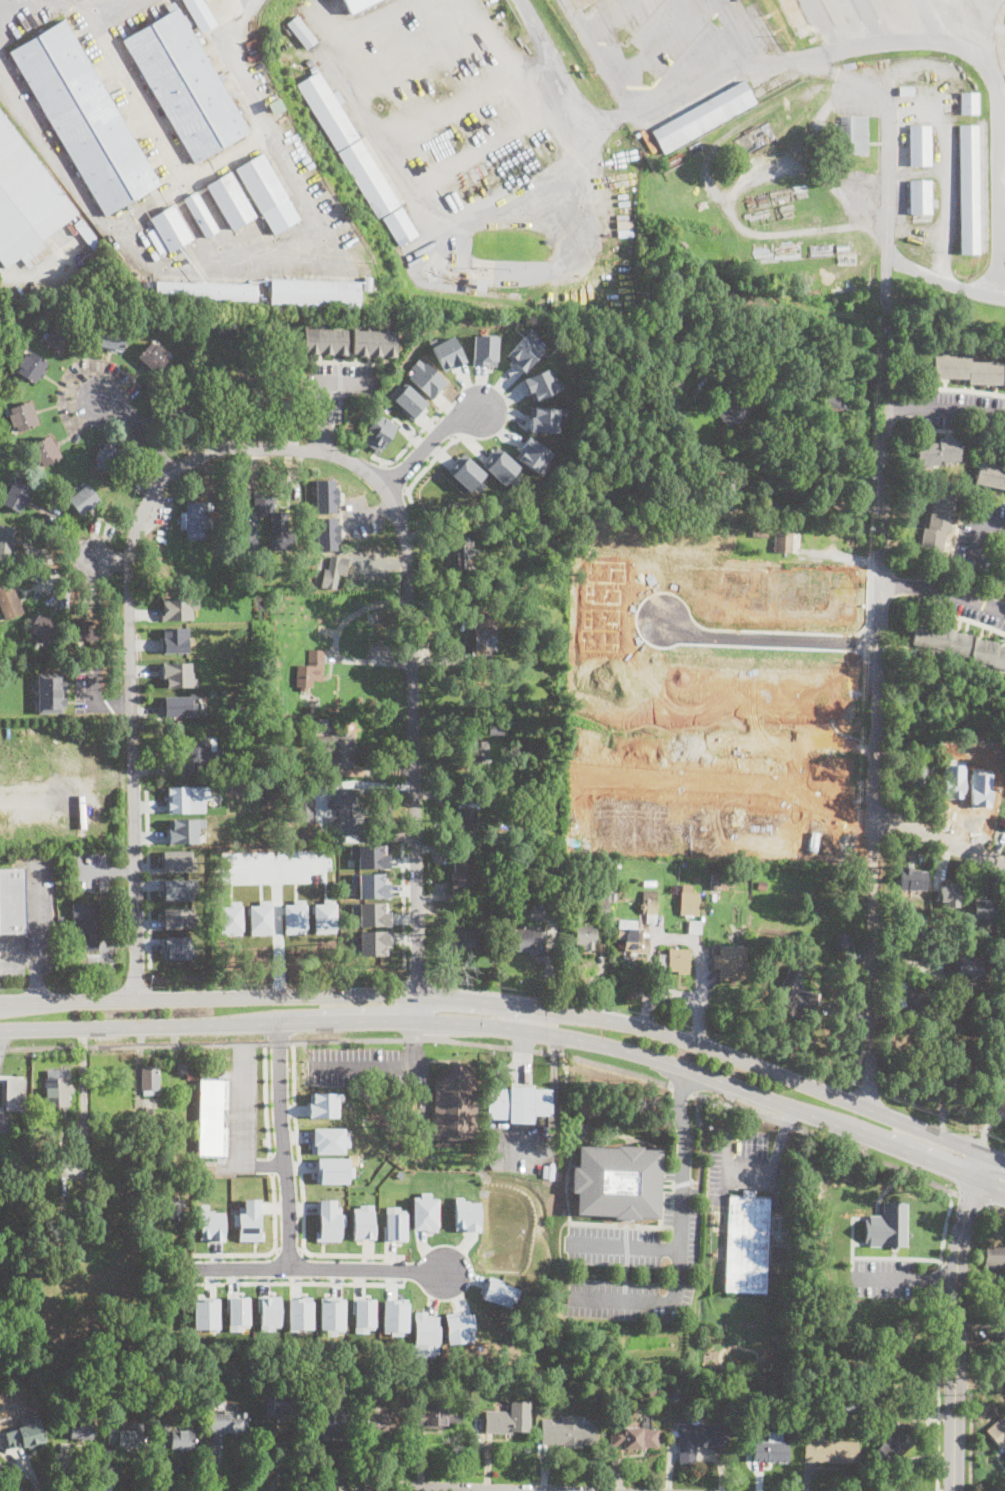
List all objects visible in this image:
building: (580, 3)
building: (357, 4)
road: (93, 6)
building: (200, 14)
building: (797, 17)
road: (935, 23)
building: (27, 24)
road: (872, 24)
road: (826, 26)
building: (301, 31)
road: (739, 32)
road: (597, 54)
road: (836, 54)
building: (953, 73)
building: (755, 83)
building: (185, 85)
building: (906, 91)
building: (968, 103)
building: (274, 106)
building: (327, 110)
building: (703, 116)
building: (83, 118)
building: (853, 134)
building: (646, 141)
building: (920, 145)
road: (886, 150)
road: (206, 165)
building: (474, 174)
building: (368, 179)
building: (261, 183)
building: (968, 189)
building: (920, 196)
building: (26, 200)
building: (230, 201)
building: (201, 215)
building: (400, 226)
building: (171, 228)
building: (88, 235)
building: (156, 239)
road: (944, 280)
building: (366, 282)
building: (479, 283)
building: (816, 289)
building: (206, 292)
building: (518, 292)
building: (315, 294)
building: (546, 296)
building: (226, 328)
building: (113, 337)
building: (60, 338)
building: (325, 340)
building: (374, 342)
building: (485, 349)
building: (524, 350)
building: (447, 352)
building: (153, 356)
building: (31, 366)
building: (286, 368)
building: (969, 370)
building: (427, 377)
building: (676, 382)
building: (541, 383)
building: (693, 391)
road: (324, 395)
building: (409, 398)
building: (252, 401)
building: (838, 405)
parking lot: (956, 407)
building: (176, 408)
road: (945, 408)
building: (735, 413)
building: (22, 417)
building: (545, 418)
road: (446, 424)
building: (380, 431)
road: (135, 433)
road: (414, 436)
road: (429, 441)
road: (277, 447)
building: (44, 451)
building: (533, 453)
building: (938, 453)
building: (107, 459)
road: (426, 465)
building: (500, 466)
building: (675, 470)
building: (465, 471)
building: (991, 475)
building: (727, 490)
building: (326, 494)
building: (16, 495)
building: (83, 499)
building: (501, 508)
building: (182, 520)
building: (196, 521)
building: (937, 524)
building: (247, 525)
building: (760, 531)
building: (324, 532)
parking lot: (977, 539)
building: (784, 541)
building: (6, 545)
road: (975, 547)
building: (465, 551)
building: (182, 555)
road: (105, 558)
building: (336, 571)
road: (944, 593)
parking lot: (961, 599)
building: (8, 601)
building: (177, 607)
building: (43, 627)
building: (88, 630)
building: (484, 630)
building: (174, 639)
road: (335, 639)
road: (766, 640)
building: (959, 644)
building: (309, 670)
building: (175, 674)
building: (50, 691)
building: (179, 705)
building: (309, 709)
road: (880, 717)
building: (496, 728)
building: (337, 750)
building: (480, 751)
building: (197, 754)
building: (307, 775)
building: (915, 776)
road: (742, 789)
building: (961, 792)
building: (186, 798)
road: (149, 805)
building: (303, 805)
building: (346, 812)
building: (466, 818)
building: (182, 830)
road: (149, 841)
road: (942, 841)
building: (555, 844)
building: (372, 856)
building: (176, 859)
road: (402, 859)
building: (614, 862)
road: (146, 868)
road: (106, 869)
parking lot: (93, 870)
building: (461, 872)
road: (148, 878)
building: (912, 879)
building: (717, 881)
building: (649, 882)
building: (369, 883)
road: (148, 885)
building: (761, 885)
building: (178, 888)
road: (401, 890)
building: (949, 894)
building: (10, 900)
building: (689, 901)
road: (402, 904)
building: (604, 904)
building: (650, 905)
building: (982, 910)
building: (371, 912)
building: (175, 915)
road: (403, 919)
parking lot: (31, 922)
road: (147, 923)
building: (87, 924)
building: (694, 926)
building: (918, 930)
road: (35, 931)
building: (586, 936)
building: (631, 936)
road: (404, 938)
building: (464, 938)
road: (681, 939)
building: (527, 940)
building: (842, 941)
building: (372, 942)
road: (148, 943)
building: (176, 947)
road: (18, 954)
building: (1003, 957)
building: (662, 959)
building: (677, 960)
building: (730, 963)
building: (964, 965)
road: (601, 971)
building: (951, 980)
building: (797, 992)
road: (672, 994)
building: (910, 1001)
road: (515, 1003)
traffic signals: (523, 1005)
road: (516, 1027)
traffic signals: (523, 1029)
road: (413, 1038)
road: (347, 1039)
road: (280, 1041)
road: (134, 1044)
road: (417, 1044)
road: (240, 1045)
road: (522, 1045)
road: (549, 1052)
building: (956, 1063)
parking lot: (367, 1064)
building: (182, 1068)
road: (371, 1068)
building: (172, 1069)
building: (150, 1080)
building: (1001, 1085)
building: (57, 1089)
road: (682, 1089)
building: (14, 1094)
road: (266, 1099)
building: (455, 1102)
building: (324, 1103)
building: (519, 1103)
building: (147, 1111)
parking lot: (240, 1111)
road: (728, 1115)
road: (680, 1116)
building: (212, 1117)
road: (552, 1118)
road: (782, 1133)
road: (238, 1139)
road: (828, 1139)
building: (328, 1140)
road: (702, 1143)
road: (282, 1145)
parking lot: (526, 1147)
building: (496, 1162)
road: (271, 1163)
parking lot: (745, 1169)
building: (332, 1170)
building: (197, 1173)
road: (745, 1177)
building: (618, 1180)
road: (681, 1182)
building: (199, 1187)
road: (302, 1195)
road: (972, 1199)
building: (145, 1207)
road: (995, 1207)
building: (173, 1209)
building: (424, 1212)
building: (465, 1214)
building: (248, 1220)
building: (329, 1220)
building: (362, 1222)
building: (394, 1223)
building: (210, 1224)
building: (888, 1225)
road: (945, 1228)
building: (747, 1243)
parking lot: (613, 1245)
parking lot: (677, 1247)
road: (275, 1248)
road: (666, 1248)
road: (272, 1249)
road: (302, 1249)
road: (289, 1250)
building: (995, 1256)
road: (897, 1258)
road: (322, 1268)
road: (401, 1269)
parking lot: (883, 1276)
road: (884, 1277)
road: (935, 1278)
road: (940, 1279)
road: (301, 1282)
building: (499, 1291)
road: (648, 1302)
building: (268, 1311)
building: (205, 1312)
building: (236, 1312)
building: (299, 1313)
building: (331, 1313)
building: (363, 1314)
building: (395, 1315)
road: (953, 1319)
building: (458, 1326)
building: (1002, 1333)
building: (425, 1334)
building: (877, 1335)
building: (339, 1379)
building: (385, 1382)
building: (878, 1382)
road: (938, 1390)
building: (653, 1391)
building: (168, 1394)
building: (676, 1394)
building: (760, 1395)
building: (283, 1405)
building: (851, 1406)
building: (438, 1416)
building: (327, 1421)
building: (504, 1421)
building: (228, 1423)
building: (379, 1424)
building: (131, 1425)
building: (79, 1429)
building: (569, 1431)
building: (998, 1433)
building: (25, 1436)
building: (127, 1436)
building: (634, 1437)
building: (179, 1440)
building: (699, 1440)
building: (894, 1445)
road: (971, 1447)
building: (829, 1449)
building: (769, 1451)
road: (285, 1462)
road: (11, 1478)
road: (428, 1489)

